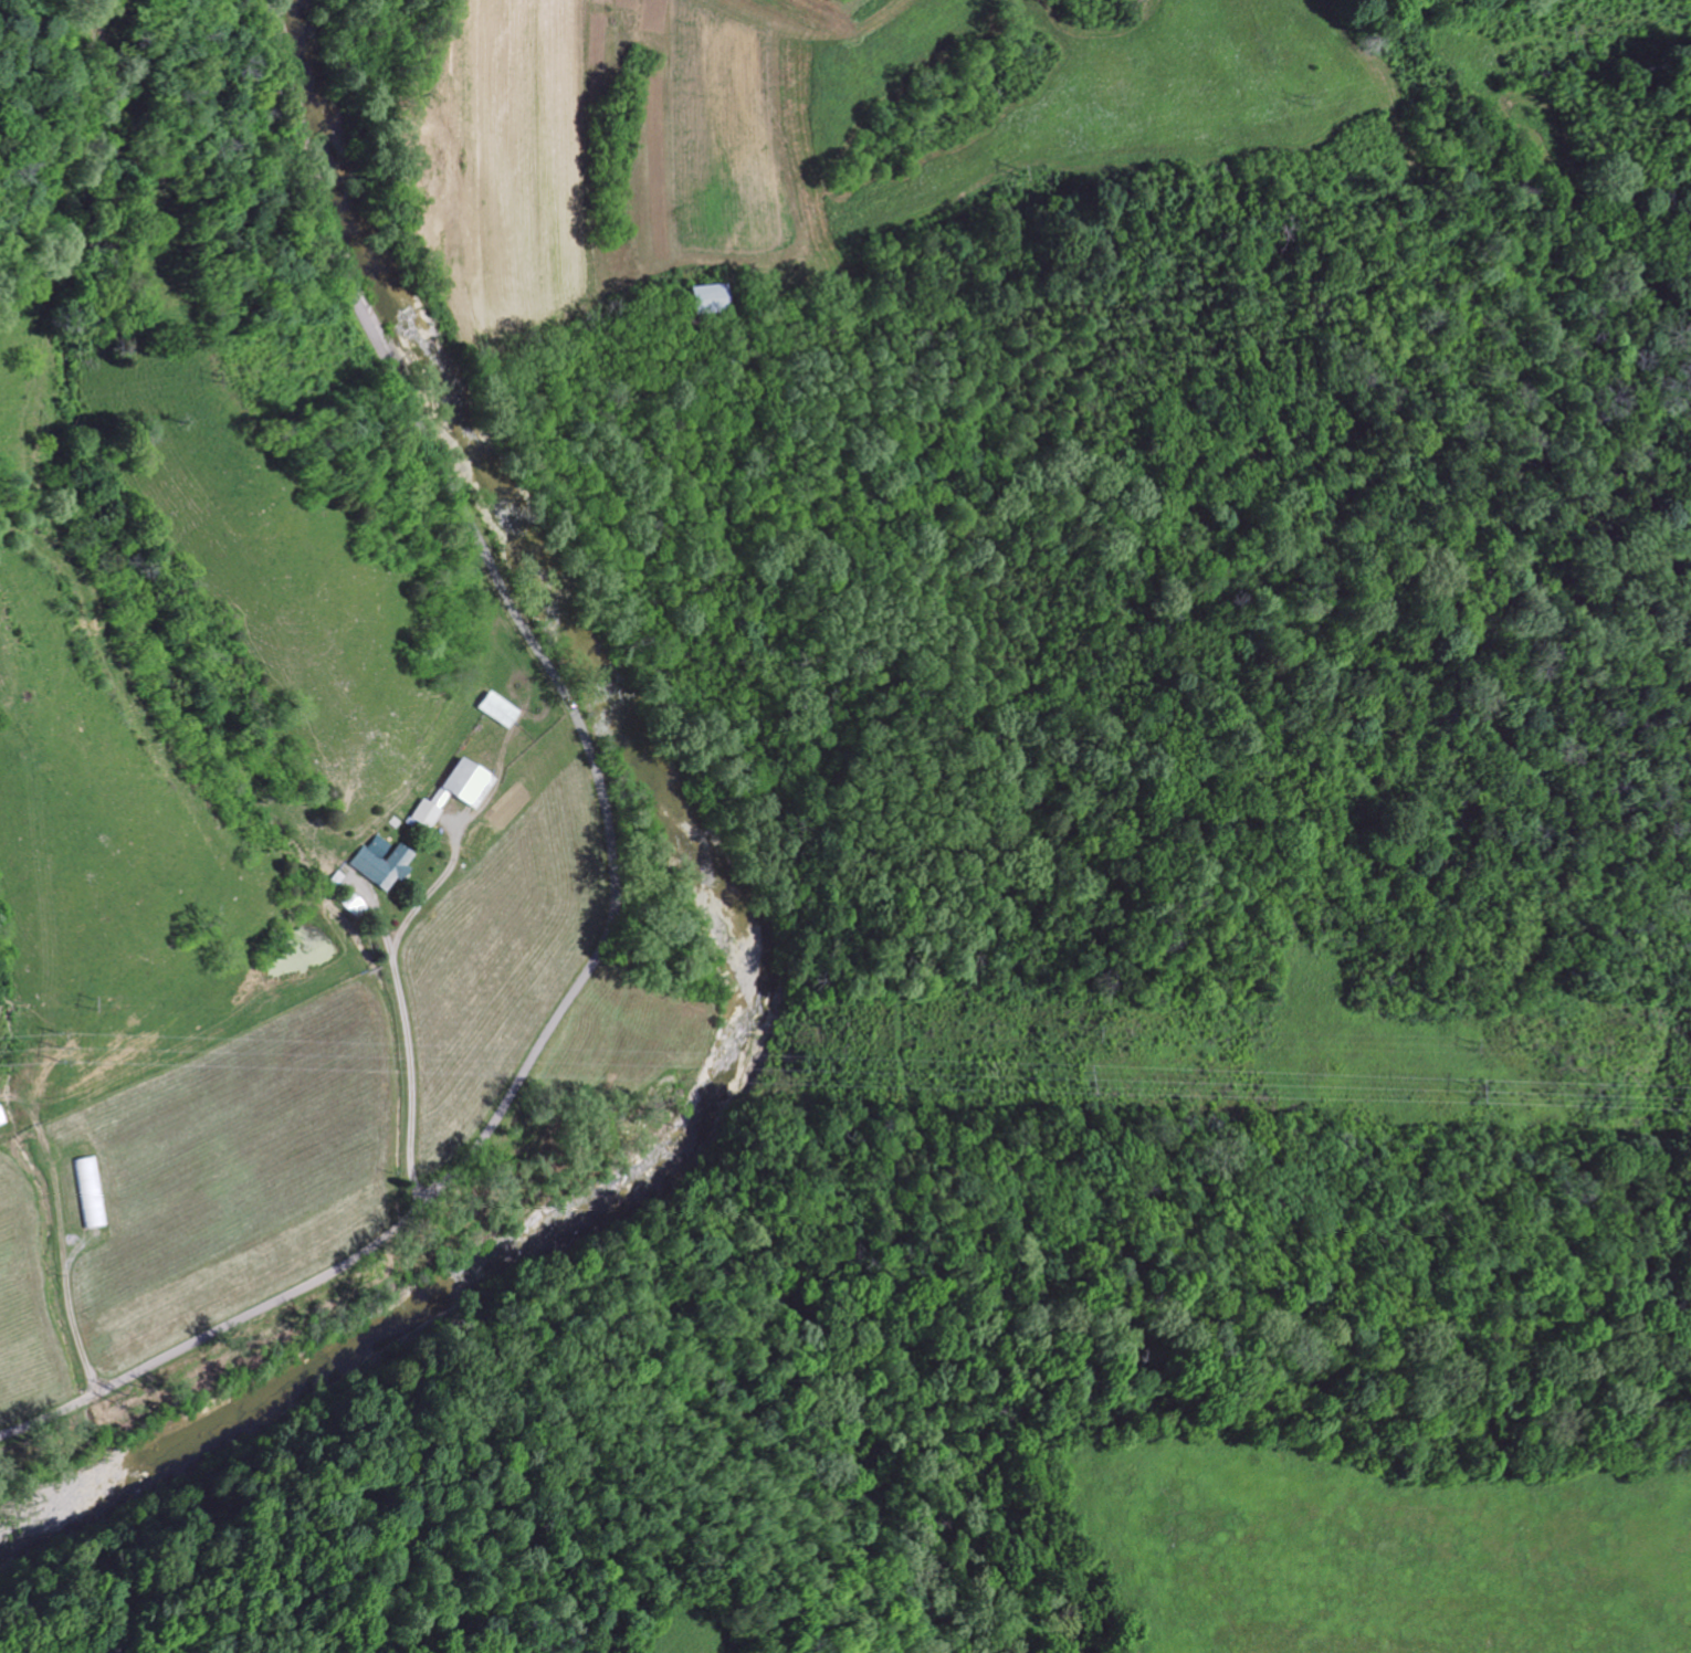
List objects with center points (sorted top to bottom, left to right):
power tower: (1569, 33)
power tower: (1302, 99)
power tower: (1018, 171)
building: (710, 299)
building: (498, 709)
building: (458, 791)
road: (610, 839)
building: (384, 862)
road: (430, 894)
power tower: (87, 1000)
power tower: (1090, 1029)
power tower: (57, 1043)
power tower: (1469, 1043)
road: (408, 1051)
power tower: (1080, 1075)
power tower: (1468, 1088)
building: (2, 1117)
building: (91, 1192)
road: (66, 1267)

